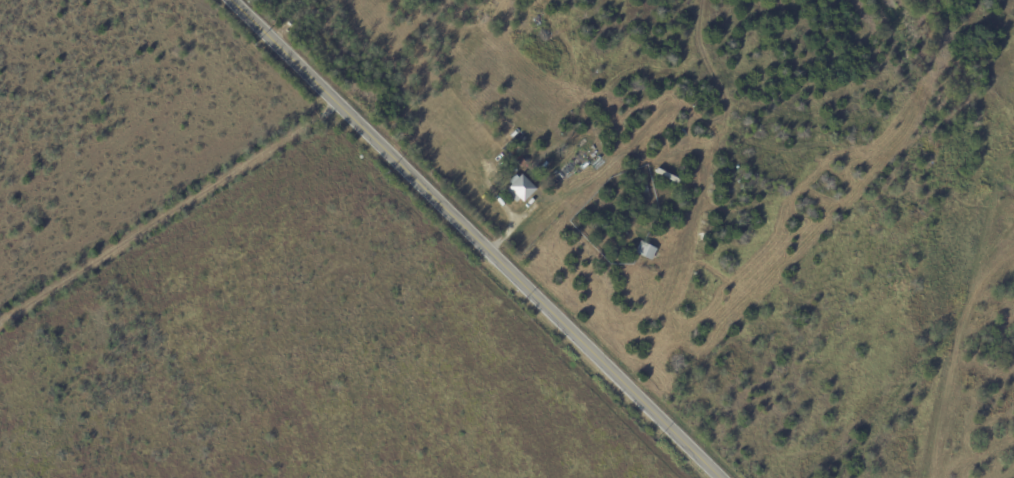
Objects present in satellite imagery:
building: (491, 119)
building: (478, 125)
building: (514, 151)
building: (523, 165)
building: (669, 177)
building: (519, 189)
building: (644, 190)
road: (168, 214)
building: (665, 221)
road: (475, 239)
building: (646, 251)

